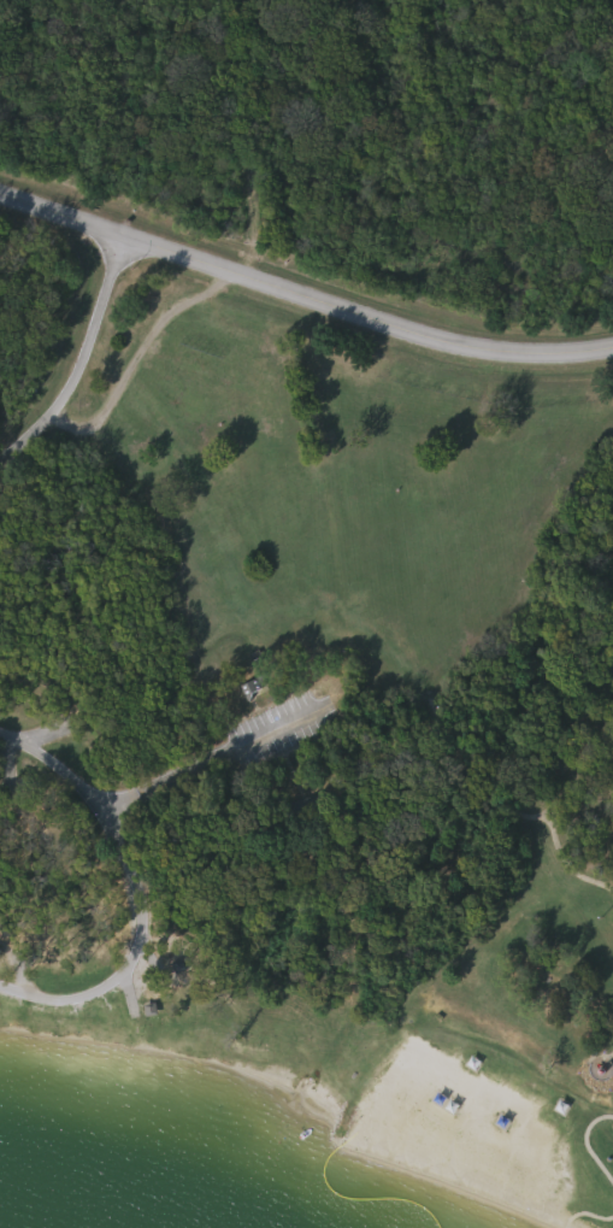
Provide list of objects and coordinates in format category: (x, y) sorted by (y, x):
road: (303, 295)
road: (142, 356)
road: (84, 369)
park: (316, 562)
building: (258, 688)
road: (212, 763)
road: (141, 897)

